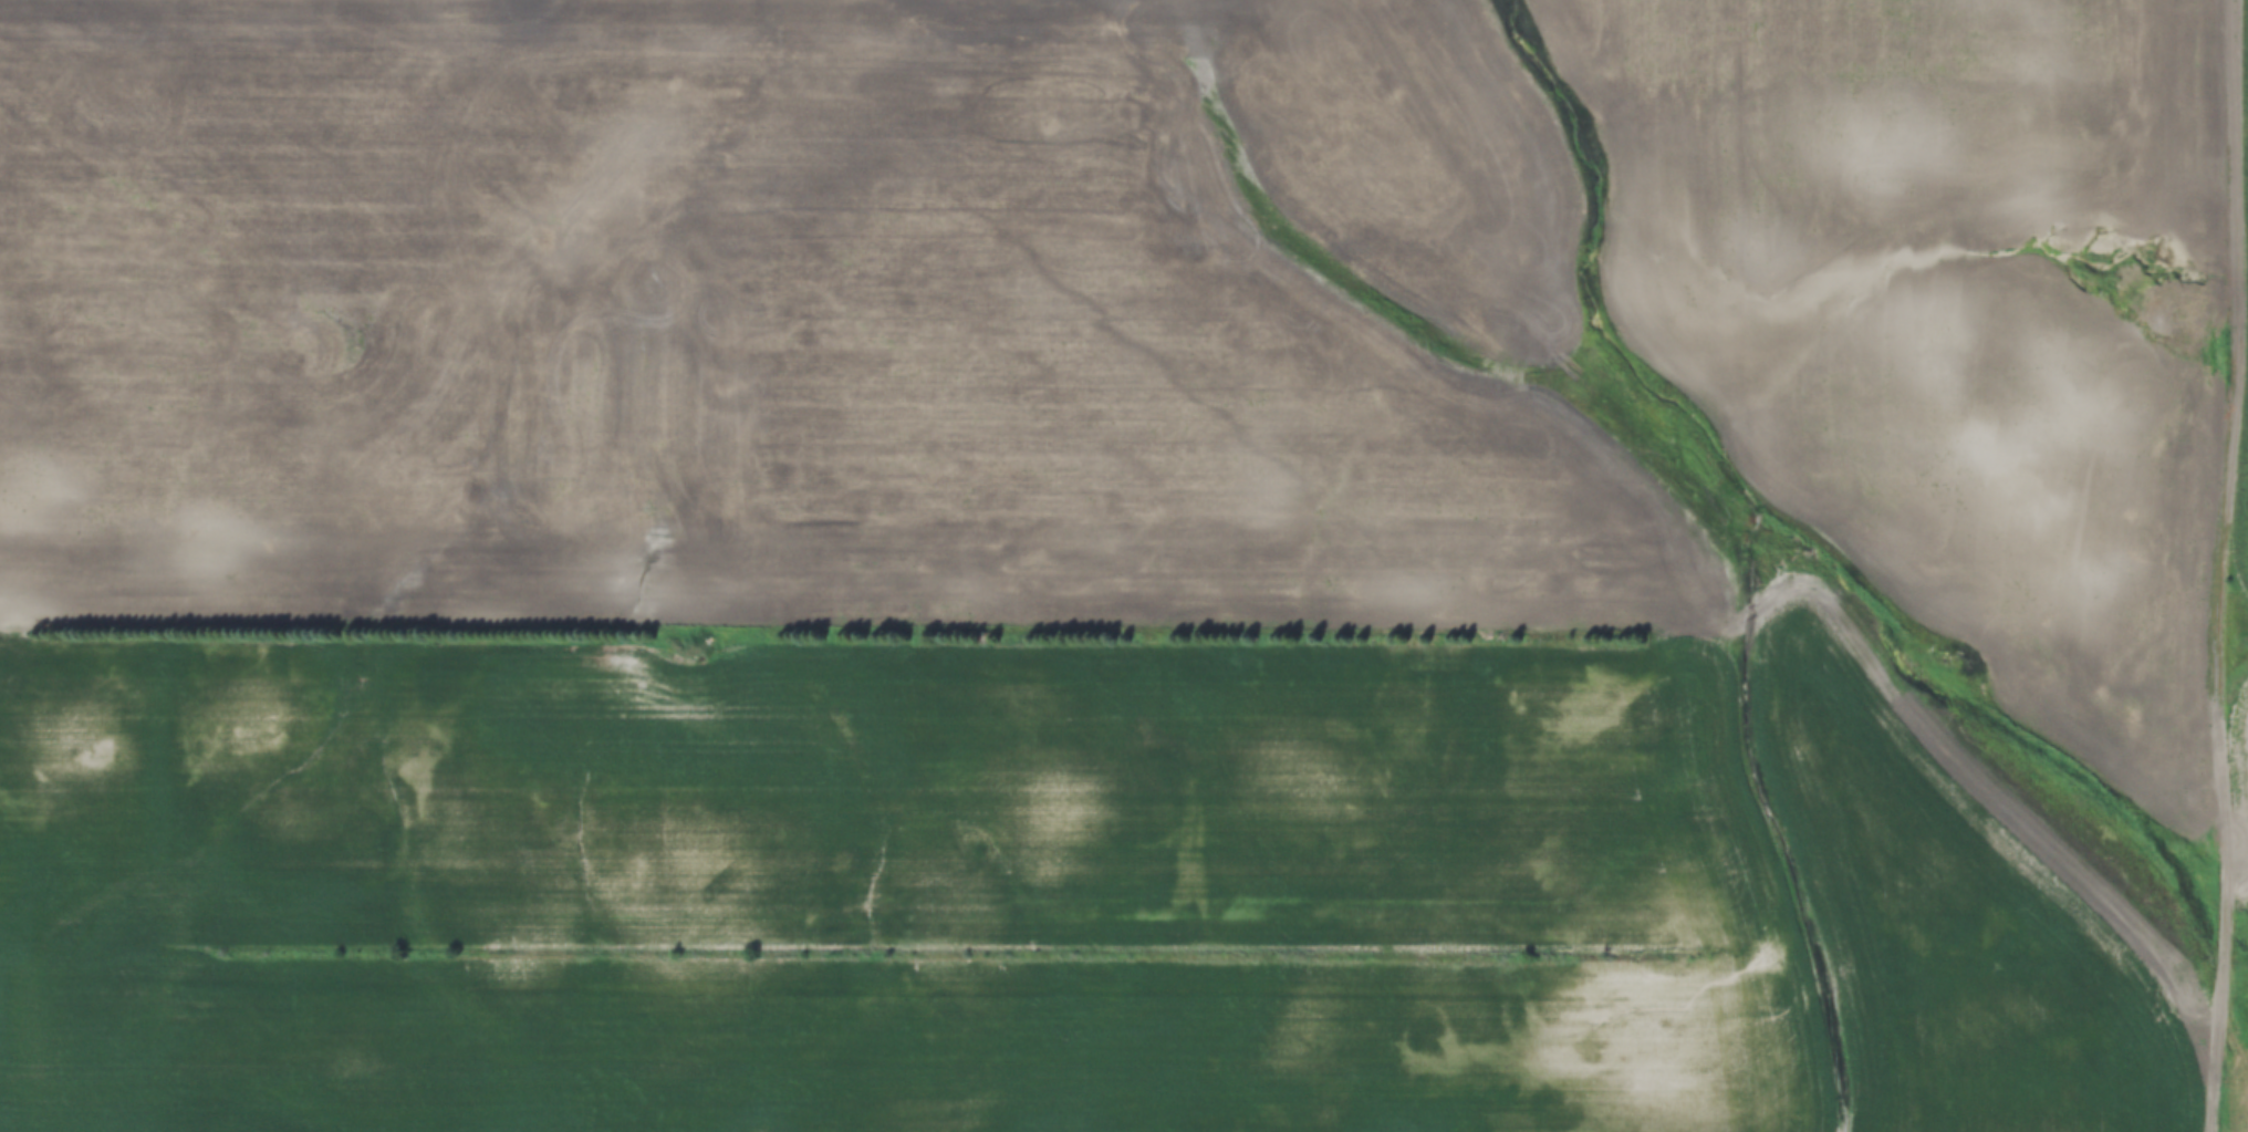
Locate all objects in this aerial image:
road: (2223, 565)

